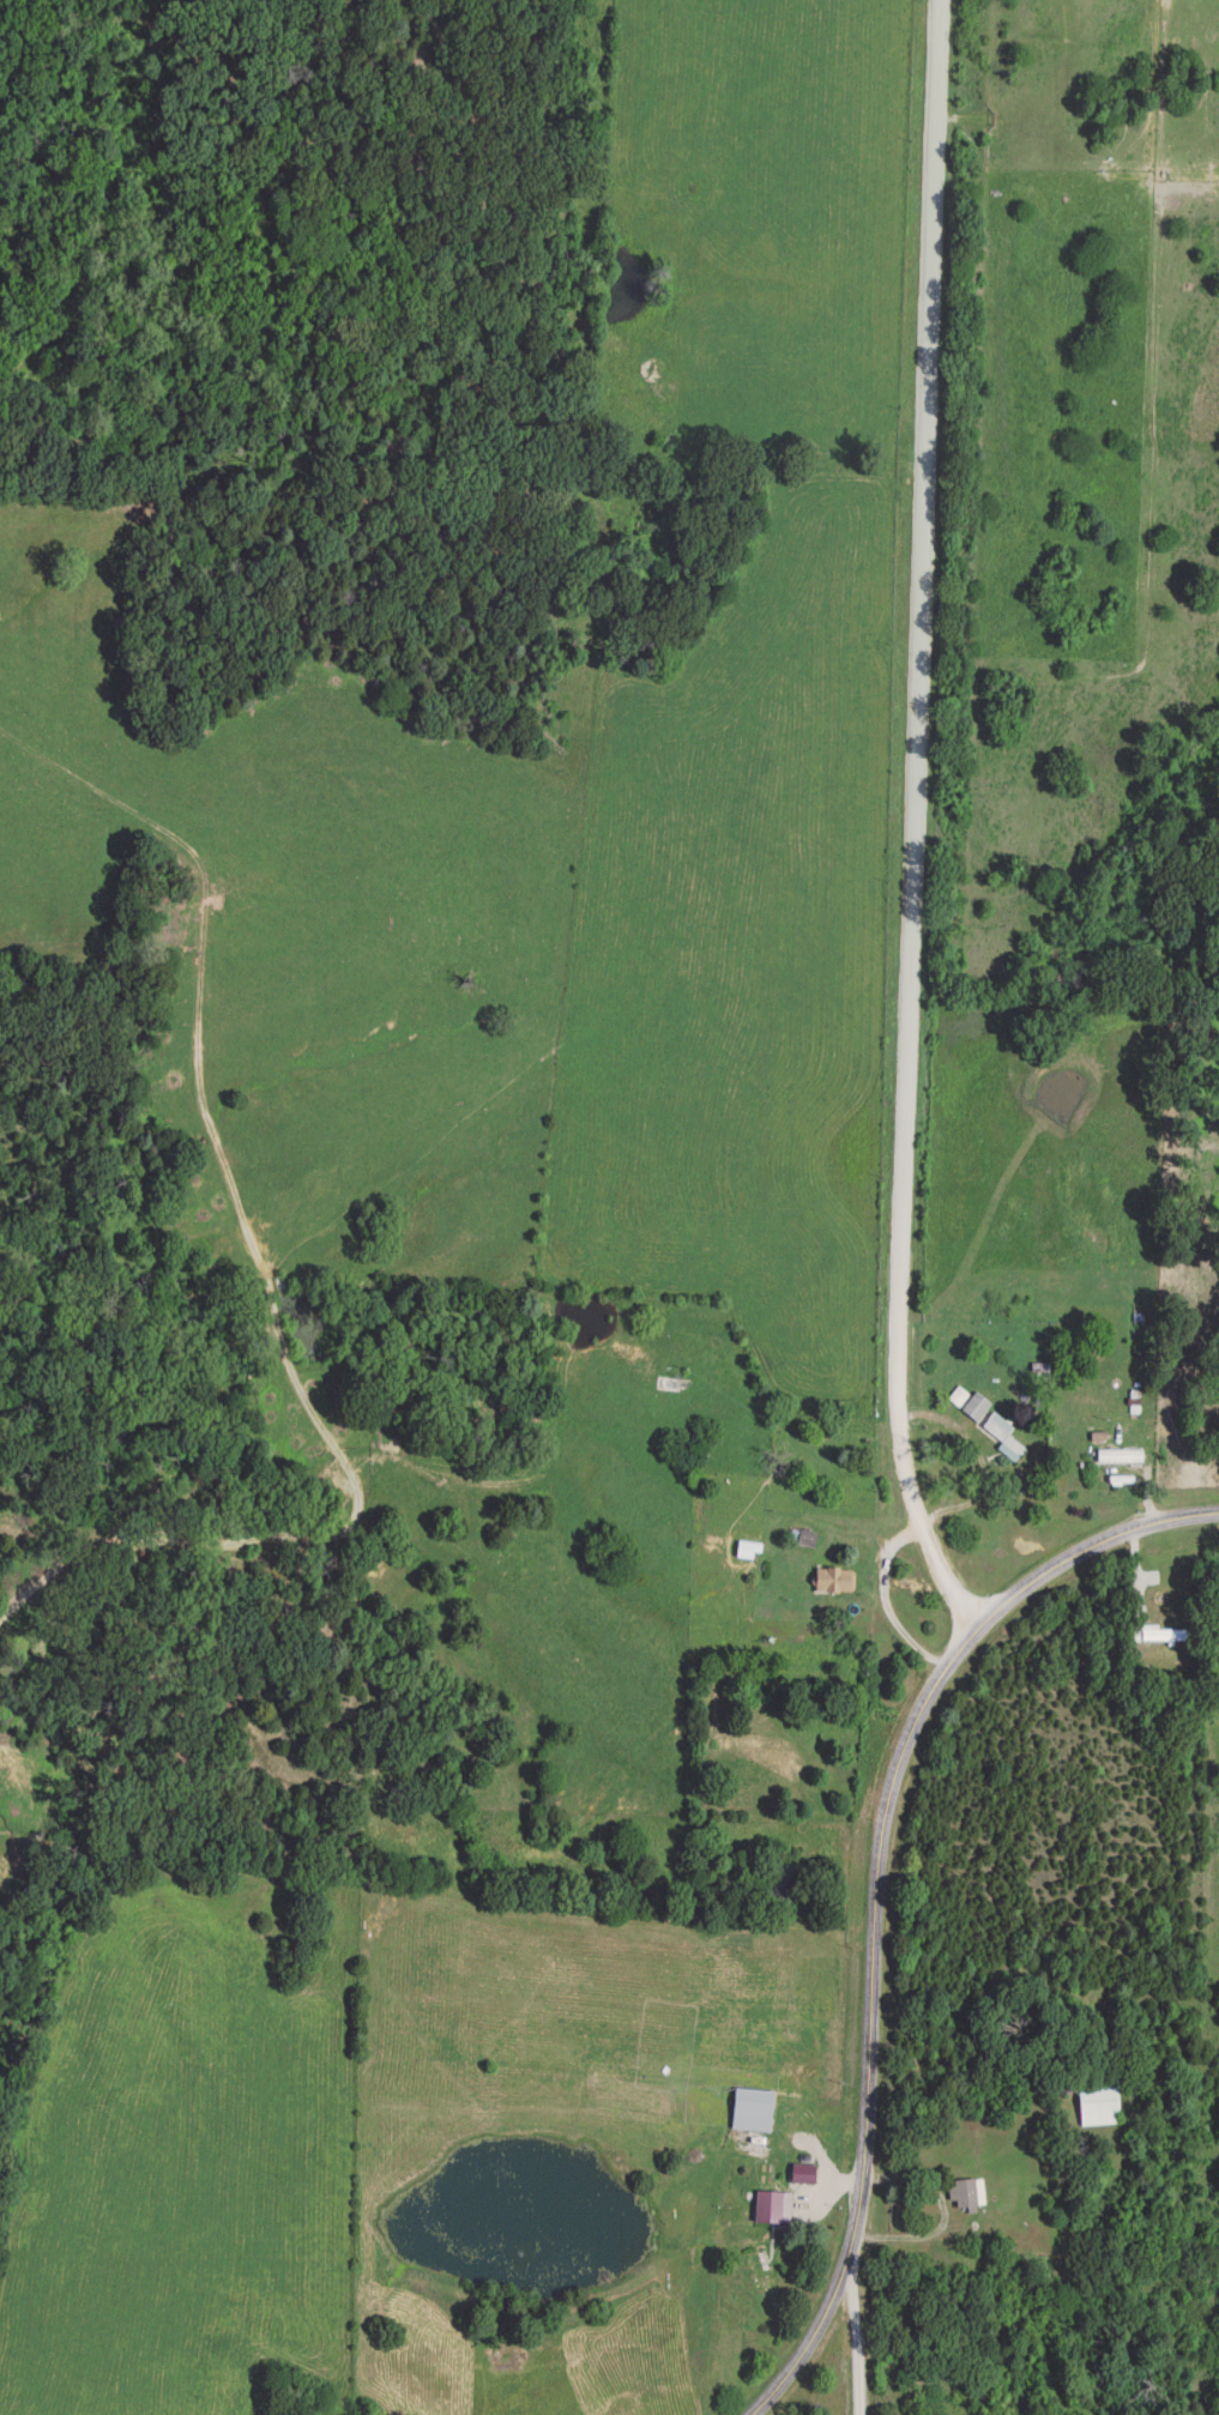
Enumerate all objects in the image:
road: (913, 821)
building: (664, 1366)
building: (1042, 1369)
building: (977, 1406)
building: (1004, 1435)
building: (706, 1442)
building: (1122, 1442)
road: (348, 1526)
building: (835, 1580)
building: (1157, 1632)
road: (881, 1812)
building: (1100, 2106)
building: (754, 2108)
building: (801, 2176)
building: (967, 2194)
building: (762, 2277)
road: (858, 2349)
road: (797, 2356)

